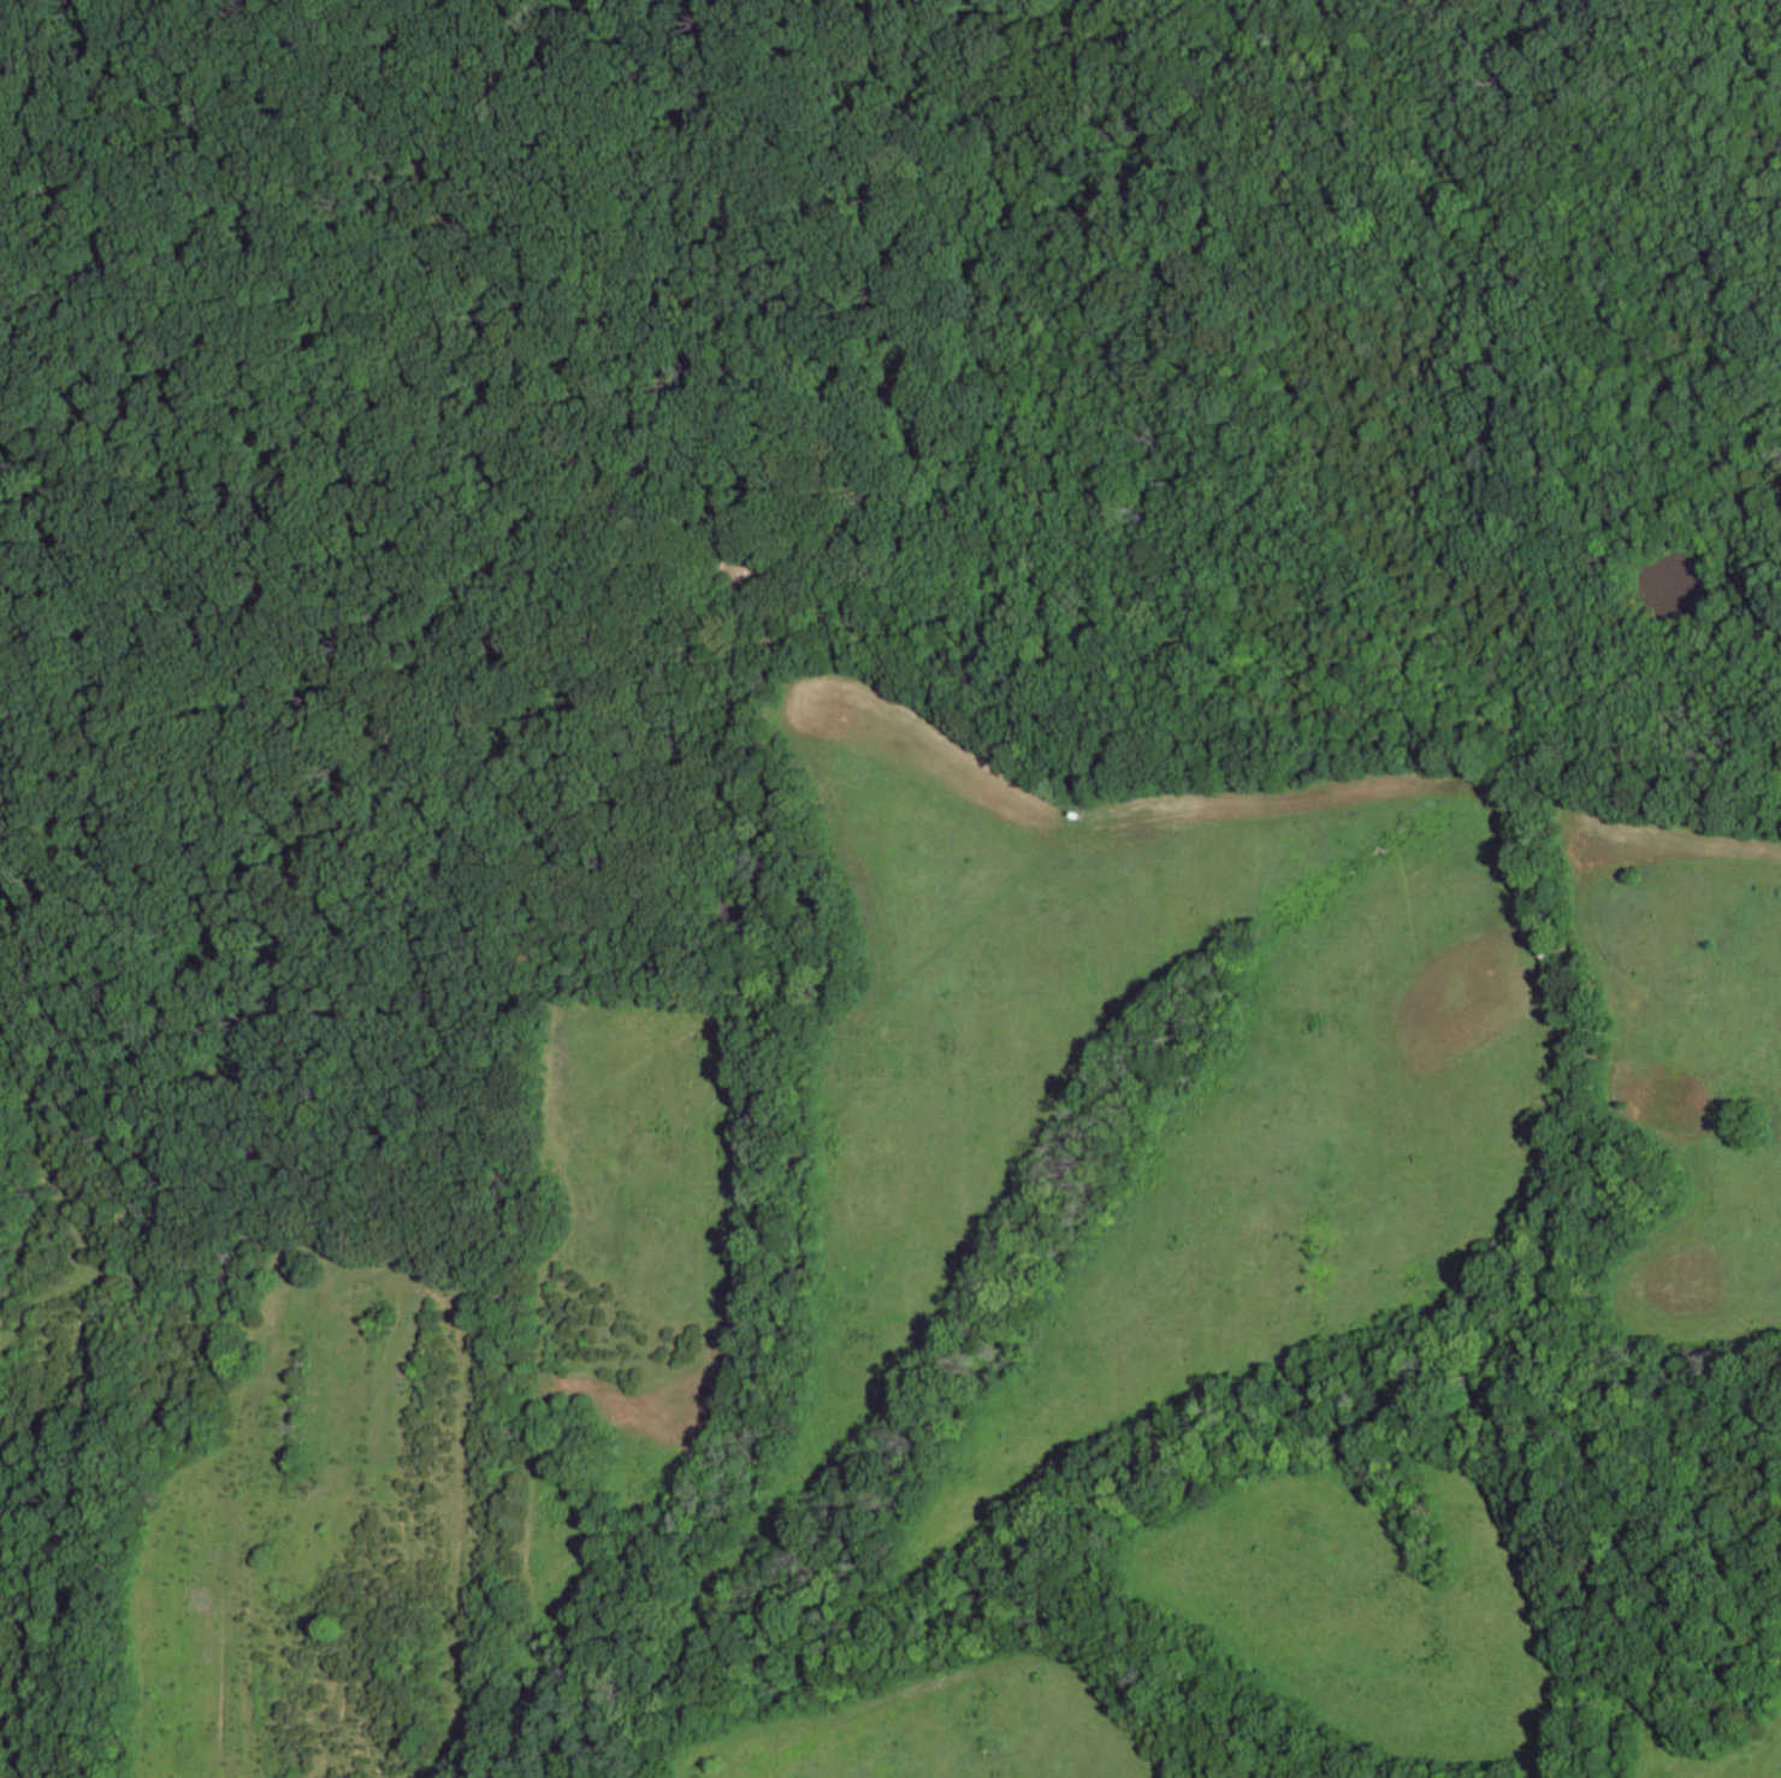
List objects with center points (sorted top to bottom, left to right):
road: (387, 1271)

